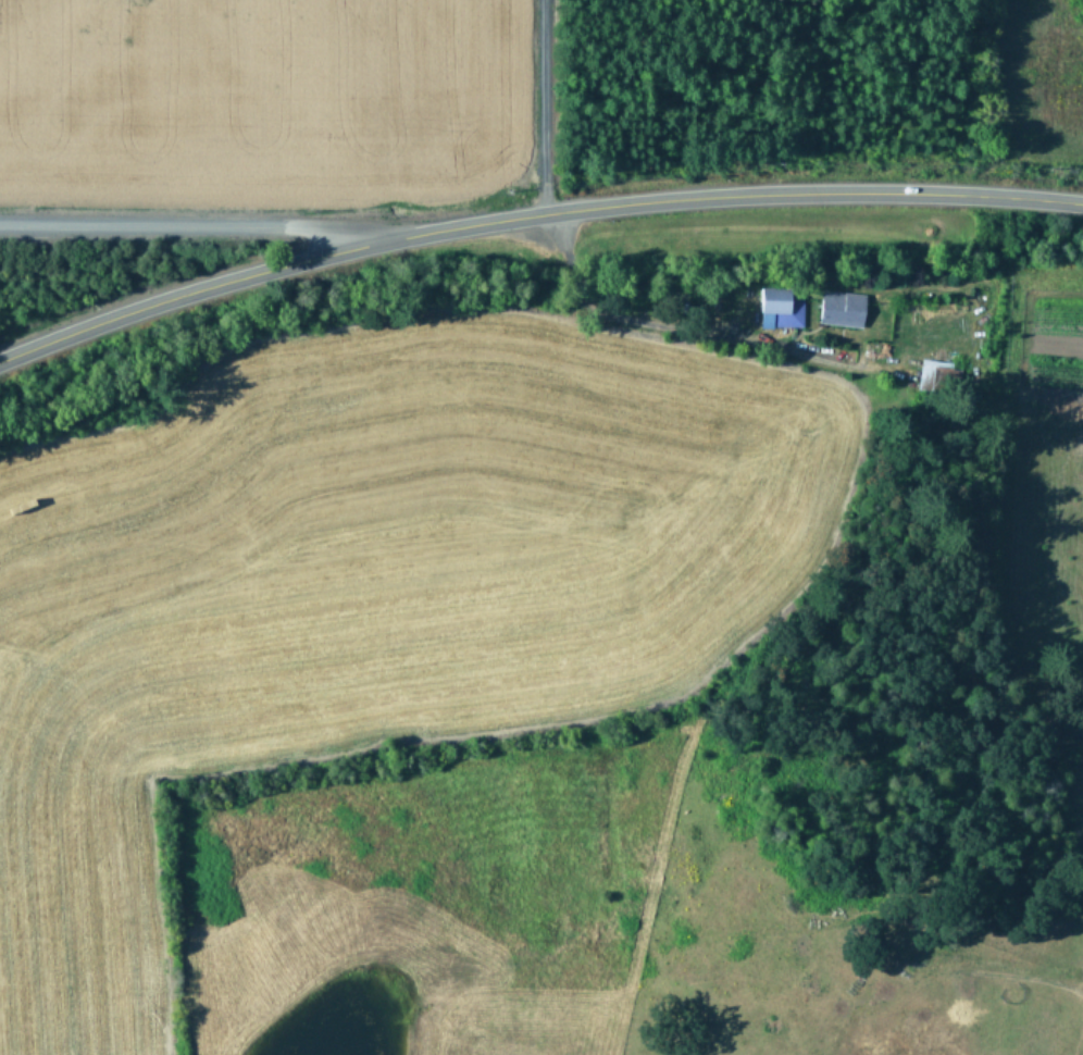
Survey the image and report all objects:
crop: (251, 99)
road: (536, 105)
road: (532, 212)
road: (191, 222)
building: (779, 305)
building: (842, 305)
road: (665, 325)
building: (930, 372)
crop: (563, 695)

